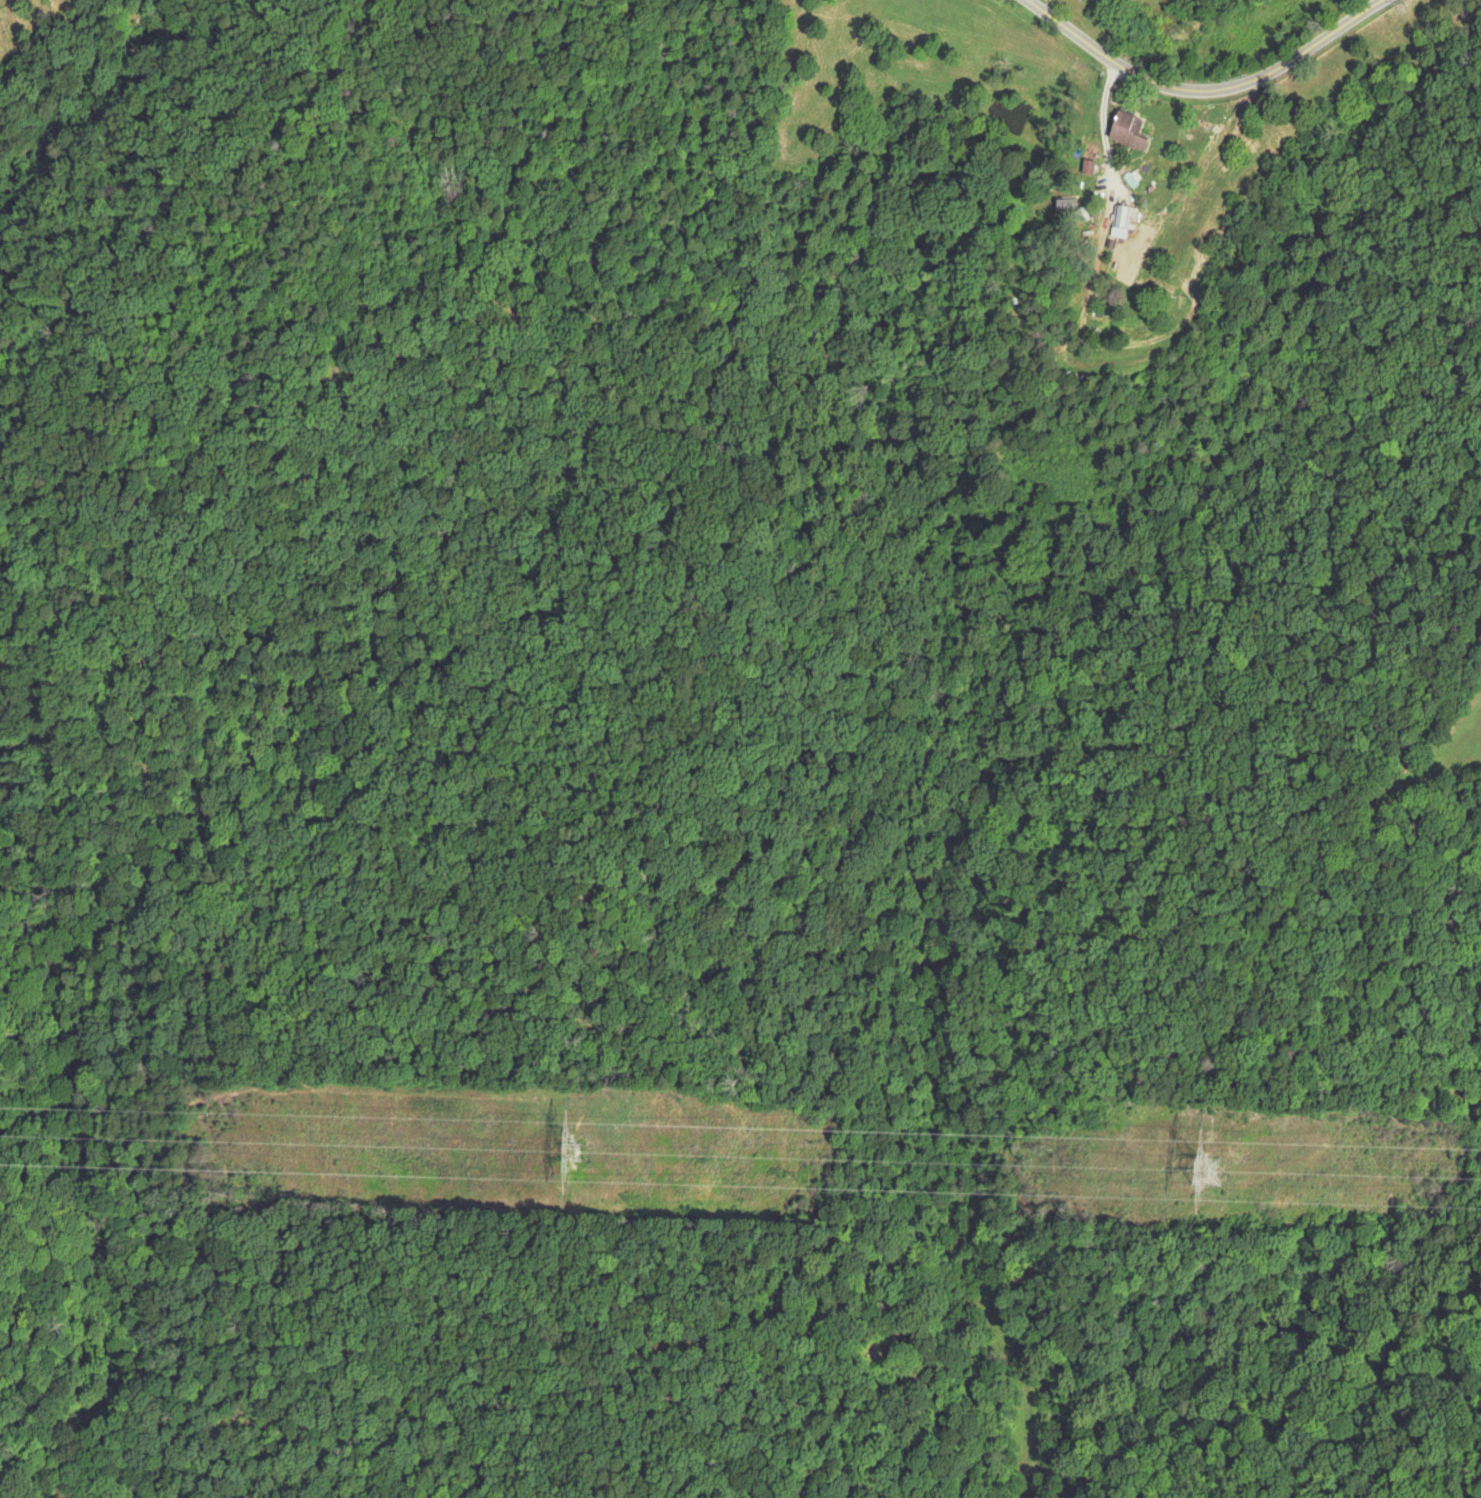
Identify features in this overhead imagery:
road: (1207, 91)
building: (1128, 128)
building: (1086, 166)
building: (1122, 219)
power tower: (569, 1150)
power tower: (1208, 1173)

